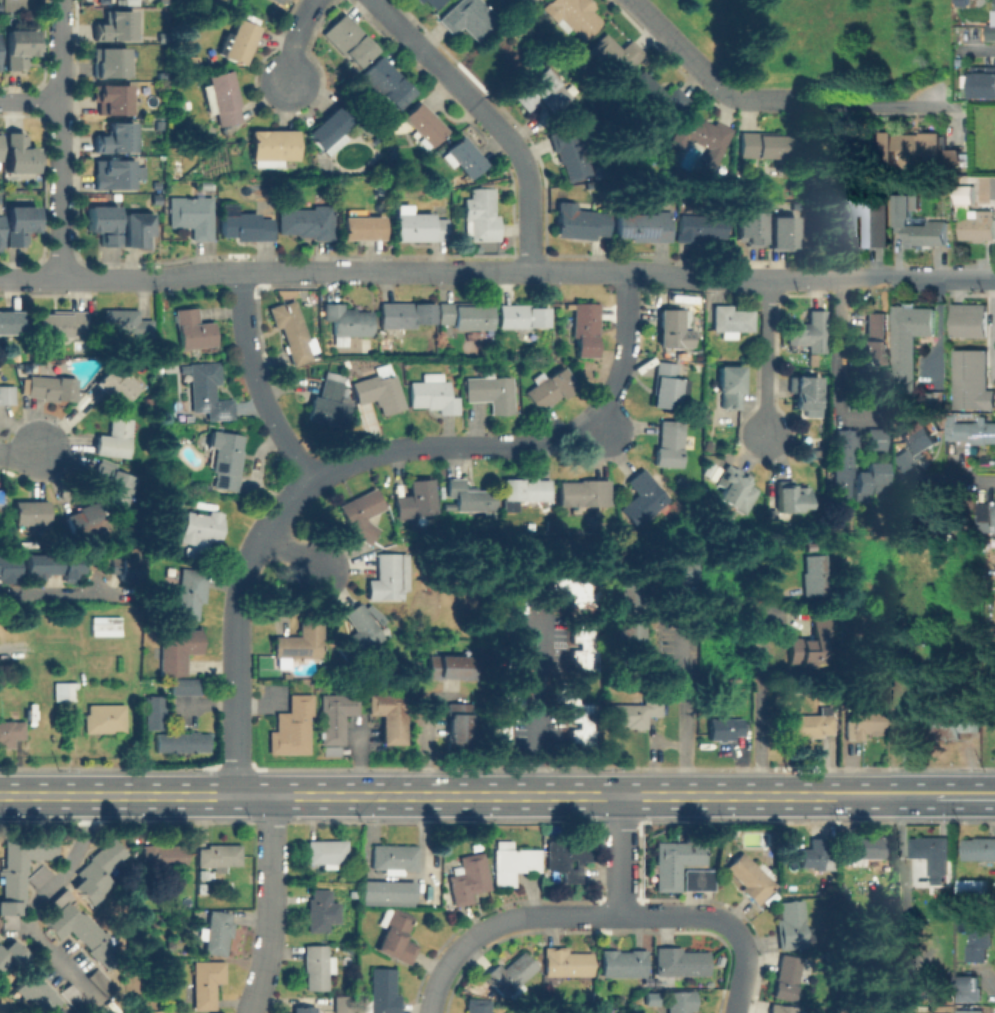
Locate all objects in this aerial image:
building: (420, 0)
building: (510, 0)
building: (278, 1)
building: (162, 2)
building: (431, 2)
building: (989, 3)
building: (0, 10)
building: (573, 15)
building: (468, 18)
building: (113, 29)
building: (991, 29)
road: (293, 37)
building: (161, 38)
building: (350, 39)
building: (238, 41)
park: (831, 45)
building: (17, 50)
road: (981, 50)
building: (613, 56)
road: (689, 58)
building: (108, 65)
building: (385, 81)
building: (984, 84)
building: (541, 91)
building: (655, 96)
building: (222, 97)
road: (29, 101)
building: (112, 101)
road: (872, 102)
road: (488, 118)
building: (422, 124)
building: (160, 125)
building: (329, 129)
building: (701, 136)
building: (377, 139)
road: (58, 140)
building: (114, 141)
building: (764, 144)
building: (271, 146)
building: (911, 146)
building: (568, 151)
building: (461, 156)
building: (952, 156)
building: (18, 158)
building: (116, 176)
building: (155, 186)
building: (965, 194)
building: (154, 200)
building: (192, 214)
building: (482, 215)
building: (307, 221)
building: (580, 221)
building: (19, 222)
building: (103, 223)
building: (979, 225)
building: (245, 226)
building: (362, 226)
building: (419, 226)
building: (699, 226)
building: (642, 227)
building: (751, 228)
building: (849, 229)
building: (136, 230)
building: (784, 232)
building: (929, 233)
road: (282, 270)
road: (543, 271)
road: (915, 277)
road: (150, 278)
road: (800, 278)
road: (28, 279)
road: (765, 311)
building: (404, 314)
building: (464, 315)
building: (521, 316)
building: (969, 319)
building: (730, 320)
building: (9, 321)
building: (127, 322)
building: (345, 322)
building: (60, 323)
road: (243, 326)
building: (585, 328)
building: (670, 328)
building: (193, 329)
building: (808, 329)
building: (291, 331)
road: (835, 335)
building: (873, 337)
building: (910, 340)
road: (626, 350)
building: (812, 357)
building: (16, 358)
building: (27, 367)
building: (972, 380)
building: (116, 385)
building: (667, 385)
building: (729, 385)
building: (51, 386)
building: (550, 388)
road: (765, 388)
building: (805, 388)
building: (379, 389)
building: (206, 391)
building: (490, 392)
building: (432, 394)
building: (7, 395)
building: (936, 401)
building: (328, 404)
road: (605, 430)
building: (977, 431)
road: (277, 432)
building: (113, 437)
building: (873, 439)
building: (921, 441)
building: (669, 443)
road: (449, 448)
road: (19, 452)
building: (225, 458)
building: (899, 459)
building: (840, 464)
building: (865, 480)
road: (975, 481)
building: (112, 483)
building: (735, 486)
building: (524, 488)
building: (583, 492)
building: (789, 495)
building: (416, 497)
building: (469, 497)
building: (641, 497)
building: (2, 500)
building: (993, 511)
building: (30, 512)
building: (360, 514)
building: (949, 517)
building: (84, 518)
building: (201, 534)
building: (154, 540)
road: (290, 555)
building: (52, 564)
building: (125, 565)
building: (8, 566)
building: (674, 569)
building: (813, 574)
building: (385, 576)
building: (516, 582)
building: (575, 590)
building: (190, 592)
road: (59, 594)
road: (235, 629)
building: (354, 633)
building: (627, 636)
building: (299, 639)
building: (584, 645)
building: (809, 645)
building: (177, 649)
building: (992, 652)
building: (447, 665)
building: (511, 674)
building: (181, 686)
building: (65, 691)
road: (759, 705)
road: (536, 708)
building: (151, 711)
building: (635, 711)
building: (333, 715)
building: (576, 715)
road: (683, 715)
building: (388, 716)
building: (105, 718)
building: (864, 723)
building: (908, 723)
building: (957, 723)
building: (457, 724)
building: (810, 724)
building: (290, 726)
building: (723, 728)
building: (11, 732)
building: (498, 736)
building: (179, 741)
road: (463, 796)
road: (961, 796)
building: (980, 847)
building: (864, 848)
building: (935, 849)
building: (326, 851)
building: (219, 854)
building: (164, 855)
road: (619, 855)
building: (814, 855)
building: (569, 856)
building: (394, 858)
building: (672, 861)
building: (513, 862)
building: (18, 871)
building: (95, 871)
building: (201, 875)
building: (36, 876)
building: (751, 877)
building: (468, 878)
building: (695, 879)
building: (973, 888)
building: (202, 889)
building: (387, 891)
road: (36, 899)
road: (270, 905)
building: (322, 909)
road: (589, 915)
building: (790, 924)
building: (72, 927)
building: (216, 932)
building: (397, 935)
building: (976, 937)
building: (7, 951)
building: (568, 962)
building: (624, 962)
building: (680, 962)
building: (317, 966)
road: (746, 969)
building: (510, 975)
building: (786, 977)
building: (206, 982)
road: (986, 982)
road: (444, 984)
building: (906, 988)
building: (967, 988)
building: (34, 992)
building: (382, 992)
building: (70, 997)
building: (651, 998)
building: (680, 1002)
building: (342, 1004)
building: (478, 1005)
building: (783, 1008)
building: (304, 1009)
road: (891, 1009)
building: (861, 1010)
building: (973, 1011)

